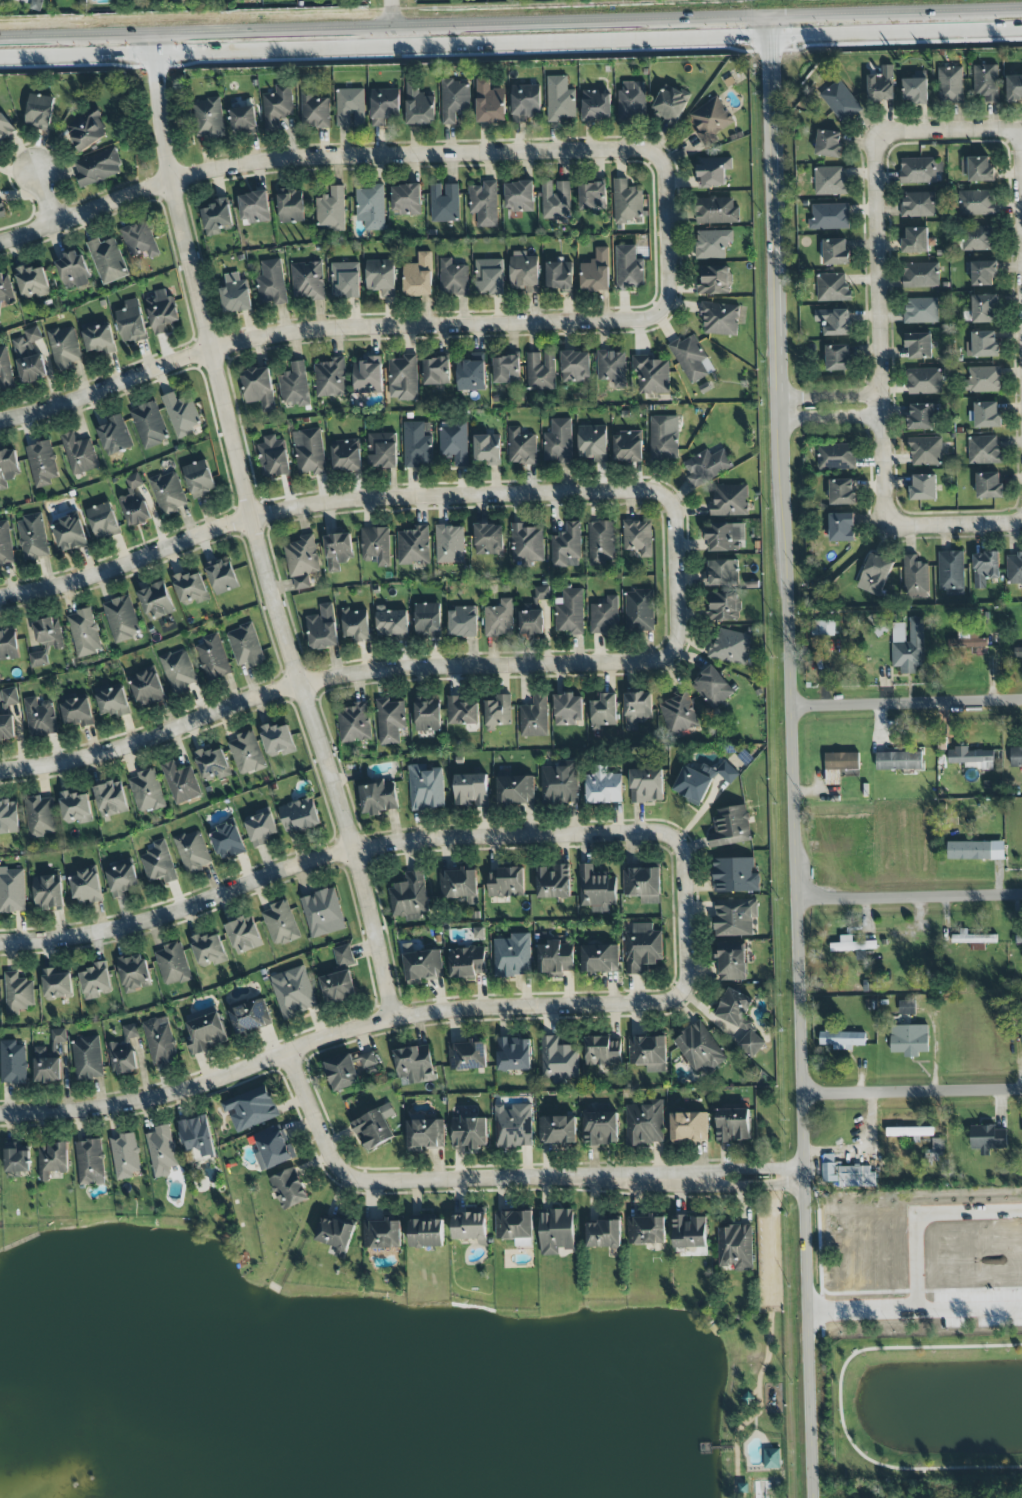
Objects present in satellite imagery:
building: (43, 0)
road: (961, 7)
road: (370, 9)
road: (834, 11)
road: (521, 18)
road: (393, 23)
road: (218, 27)
road: (81, 31)
road: (896, 33)
road: (582, 41)
road: (331, 47)
road: (134, 52)
building: (877, 81)
building: (983, 83)
building: (948, 84)
building: (1013, 84)
building: (912, 88)
building: (840, 98)
building: (454, 99)
building: (559, 99)
building: (631, 101)
building: (489, 102)
building: (525, 102)
building: (384, 105)
building: (596, 105)
building: (670, 105)
building: (419, 106)
building: (277, 107)
building: (350, 107)
building: (39, 110)
building: (313, 110)
building: (208, 118)
building: (243, 120)
building: (710, 121)
building: (5, 128)
building: (86, 129)
road: (950, 130)
road: (1019, 132)
building: (826, 142)
road: (1002, 146)
road: (361, 155)
building: (922, 166)
building: (97, 167)
building: (987, 167)
building: (713, 171)
road: (861, 173)
building: (828, 182)
road: (1020, 184)
road: (45, 194)
building: (519, 196)
building: (592, 196)
building: (984, 198)
building: (406, 199)
building: (555, 200)
building: (444, 202)
building: (627, 202)
building: (484, 203)
building: (916, 204)
building: (254, 206)
building: (291, 206)
building: (370, 207)
building: (1, 209)
building: (331, 209)
building: (716, 210)
building: (217, 217)
building: (829, 217)
building: (915, 236)
building: (976, 236)
building: (139, 239)
building: (712, 243)
building: (840, 248)
building: (107, 260)
building: (628, 268)
building: (72, 270)
building: (981, 270)
building: (596, 271)
building: (524, 272)
building: (918, 272)
building: (559, 275)
building: (380, 276)
building: (419, 276)
building: (489, 276)
building: (452, 278)
building: (346, 280)
building: (714, 280)
building: (31, 281)
building: (307, 281)
building: (270, 283)
building: (829, 286)
building: (5, 289)
building: (235, 294)
building: (982, 308)
building: (919, 309)
building: (162, 311)
building: (720, 318)
building: (831, 320)
building: (131, 322)
road: (370, 327)
road: (880, 329)
building: (99, 338)
building: (982, 341)
building: (916, 342)
building: (64, 348)
building: (837, 354)
building: (29, 357)
building: (691, 358)
building: (576, 366)
building: (612, 367)
building: (5, 369)
building: (506, 370)
building: (436, 371)
building: (541, 371)
building: (471, 373)
building: (651, 374)
building: (368, 376)
building: (331, 378)
building: (403, 378)
building: (921, 379)
building: (980, 379)
building: (295, 385)
building: (258, 388)
road: (831, 398)
building: (986, 412)
building: (181, 414)
building: (919, 416)
road: (832, 418)
building: (148, 425)
building: (114, 436)
building: (664, 438)
building: (454, 442)
building: (558, 442)
building: (593, 443)
building: (417, 446)
building: (628, 446)
building: (521, 447)
building: (487, 449)
building: (382, 450)
building: (982, 450)
building: (309, 451)
building: (923, 452)
building: (79, 454)
building: (346, 455)
building: (835, 457)
building: (274, 458)
building: (42, 463)
building: (707, 466)
building: (8, 467)
building: (199, 479)
building: (986, 485)
building: (921, 487)
building: (841, 491)
building: (168, 493)
road: (360, 497)
building: (730, 500)
building: (135, 503)
road: (896, 506)
building: (103, 521)
building: (840, 524)
road: (956, 524)
road: (252, 528)
building: (70, 533)
building: (32, 537)
building: (638, 537)
building: (725, 537)
building: (489, 539)
building: (527, 543)
building: (601, 543)
building: (5, 544)
building: (449, 544)
road: (896, 544)
building: (375, 546)
building: (413, 546)
building: (567, 546)
building: (338, 551)
building: (302, 561)
building: (1017, 564)
building: (981, 567)
building: (875, 571)
building: (948, 571)
building: (721, 572)
building: (915, 575)
building: (222, 576)
building: (190, 588)
building: (542, 593)
building: (156, 601)
building: (725, 606)
building: (639, 610)
building: (570, 612)
building: (605, 616)
building: (121, 619)
building: (499, 619)
building: (428, 620)
building: (463, 622)
building: (532, 622)
building: (391, 623)
building: (356, 624)
building: (323, 628)
building: (822, 628)
building: (84, 632)
building: (968, 639)
building: (46, 640)
building: (8, 644)
building: (246, 645)
building: (908, 645)
building: (730, 647)
building: (1018, 652)
building: (213, 658)
road: (376, 669)
building: (179, 671)
building: (148, 687)
building: (713, 687)
building: (112, 701)
road: (907, 703)
building: (637, 709)
building: (568, 710)
building: (604, 710)
building: (462, 711)
building: (498, 711)
building: (77, 712)
building: (678, 713)
building: (427, 714)
building: (40, 717)
building: (534, 717)
building: (390, 721)
building: (354, 723)
building: (278, 739)
building: (247, 753)
road: (793, 755)
building: (1016, 757)
building: (972, 758)
building: (898, 760)
building: (841, 761)
building: (213, 763)
building: (727, 772)
building: (181, 783)
building: (559, 784)
building: (647, 785)
building: (692, 785)
building: (426, 787)
building: (604, 787)
building: (471, 790)
building: (515, 790)
building: (146, 791)
building: (379, 798)
building: (111, 799)
building: (76, 807)
building: (299, 815)
building: (41, 816)
building: (9, 817)
building: (730, 826)
building: (261, 828)
building: (228, 840)
road: (367, 848)
building: (976, 850)
building: (192, 851)
building: (159, 863)
building: (735, 875)
building: (122, 880)
building: (506, 882)
building: (553, 882)
building: (460, 884)
building: (643, 884)
building: (87, 886)
building: (12, 890)
building: (596, 890)
building: (49, 892)
building: (409, 897)
road: (910, 897)
building: (322, 913)
building: (735, 917)
building: (280, 923)
building: (244, 935)
building: (973, 939)
building: (853, 947)
building: (643, 948)
building: (208, 950)
building: (343, 955)
building: (512, 956)
building: (556, 957)
building: (600, 958)
building: (467, 962)
building: (732, 962)
building: (422, 963)
building: (173, 964)
building: (134, 973)
building: (96, 981)
building: (57, 984)
building: (338, 987)
building: (293, 992)
building: (18, 993)
building: (908, 1007)
building: (250, 1017)
building: (740, 1020)
road: (379, 1021)
building: (1021, 1023)
building: (206, 1033)
building: (58, 1035)
building: (842, 1039)
building: (909, 1040)
building: (160, 1041)
building: (700, 1049)
building: (603, 1051)
building: (124, 1052)
building: (649, 1053)
building: (514, 1054)
building: (468, 1055)
building: (87, 1058)
building: (365, 1060)
building: (559, 1060)
building: (12, 1063)
building: (48, 1063)
building: (414, 1065)
building: (341, 1073)
road: (913, 1090)
building: (251, 1108)
building: (645, 1124)
building: (733, 1125)
building: (513, 1126)
building: (375, 1127)
building: (688, 1127)
building: (601, 1128)
building: (557, 1130)
building: (469, 1132)
building: (909, 1132)
building: (425, 1133)
building: (197, 1135)
building: (987, 1138)
building: (273, 1149)
building: (161, 1151)
building: (935, 1151)
building: (125, 1155)
building: (17, 1159)
building: (52, 1160)
building: (90, 1162)
building: (846, 1173)
building: (289, 1188)
road: (504, 1190)
road: (922, 1211)
building: (469, 1227)
building: (515, 1227)
building: (647, 1229)
building: (557, 1231)
building: (427, 1232)
building: (690, 1232)
building: (337, 1234)
building: (382, 1234)
building: (604, 1234)
building: (735, 1247)
road: (771, 1247)
parking lot: (780, 1253)
road: (968, 1306)
road: (862, 1307)
park: (380, 1378)
road: (839, 1403)
road: (760, 1407)
road: (756, 1422)
road: (730, 1447)
pier: (684, 1448)
pier: (696, 1448)
pier: (701, 1448)
pier: (709, 1452)
building: (772, 1458)

